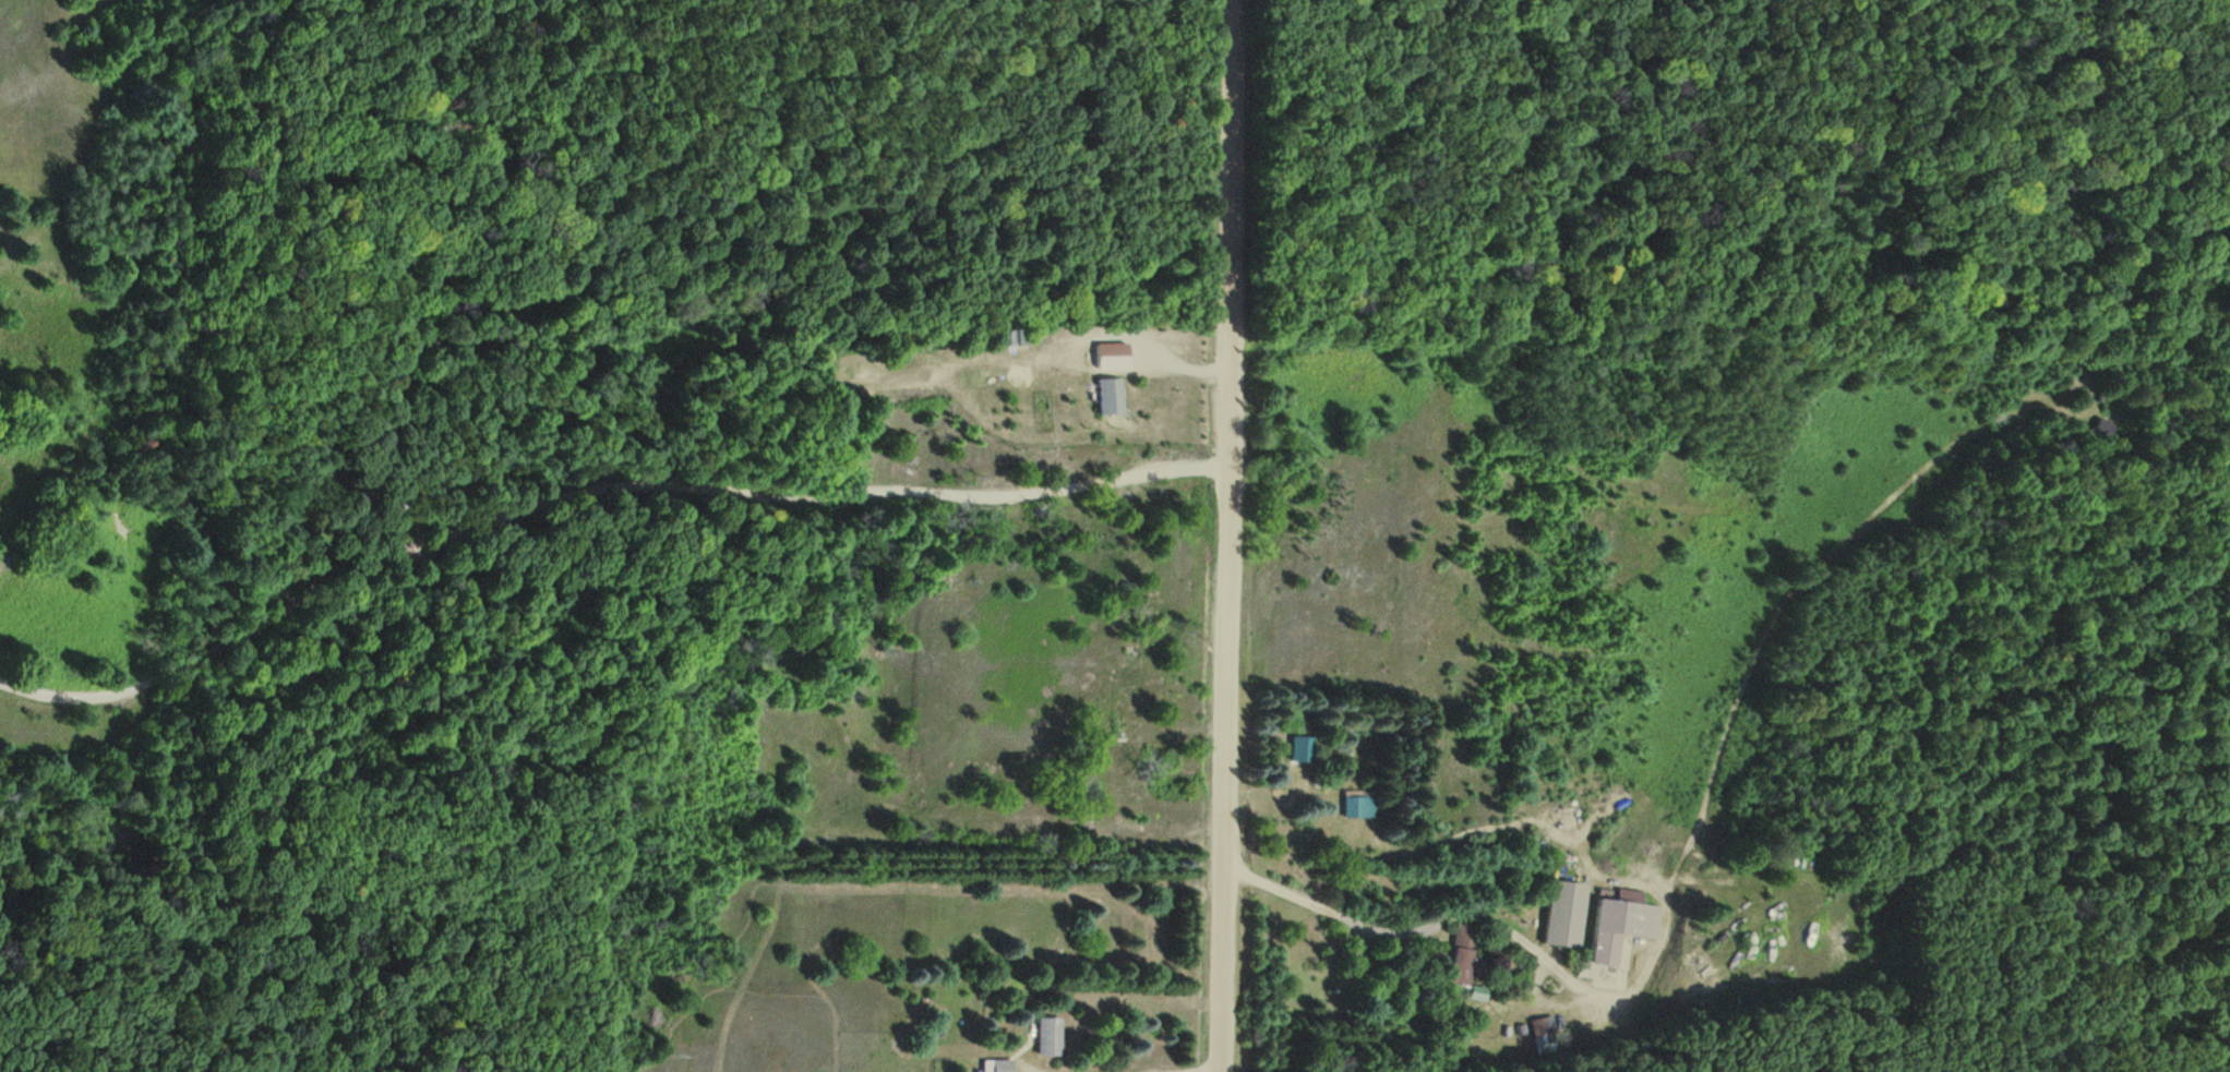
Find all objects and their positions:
building: (1018, 337)
building: (1105, 397)
road: (589, 485)
road: (1224, 534)
building: (1302, 757)
building: (1360, 804)
building: (1562, 914)
building: (1619, 926)
road: (1430, 932)
building: (1463, 956)
building: (1047, 1036)
building: (1546, 1036)
building: (1002, 1065)

